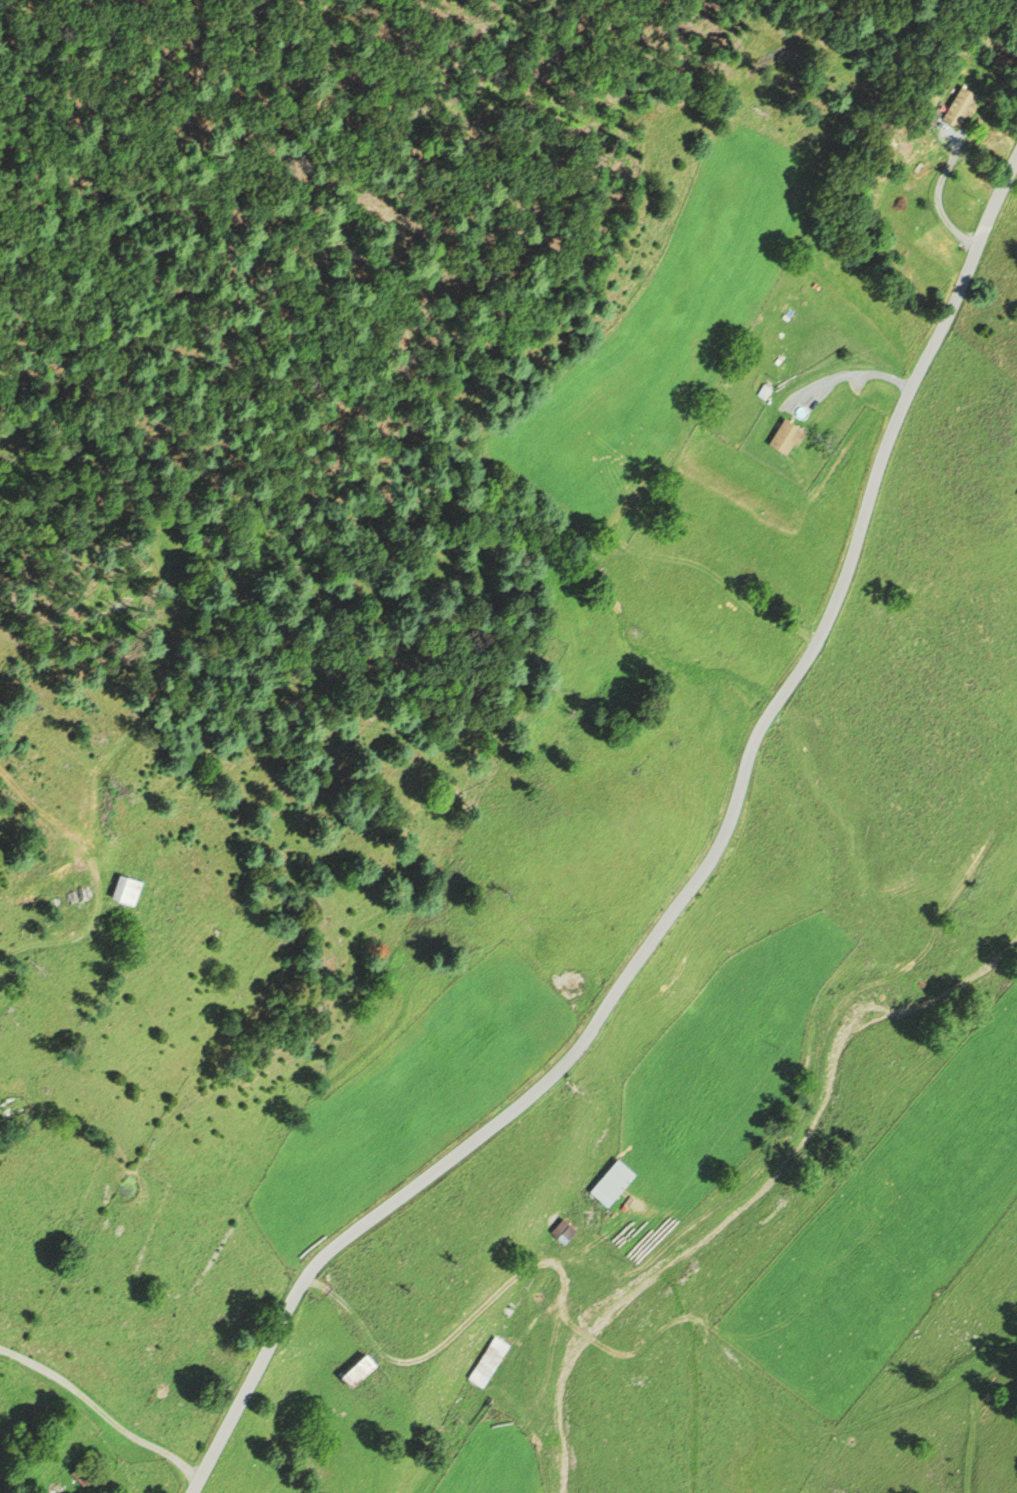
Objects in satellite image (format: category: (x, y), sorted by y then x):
building: (957, 108)
road: (937, 205)
road: (849, 374)
building: (782, 437)
road: (93, 881)
road: (686, 884)
building: (122, 893)
building: (3, 1116)
building: (608, 1185)
building: (486, 1364)
building: (353, 1371)
road: (100, 1410)
building: (82, 1475)

